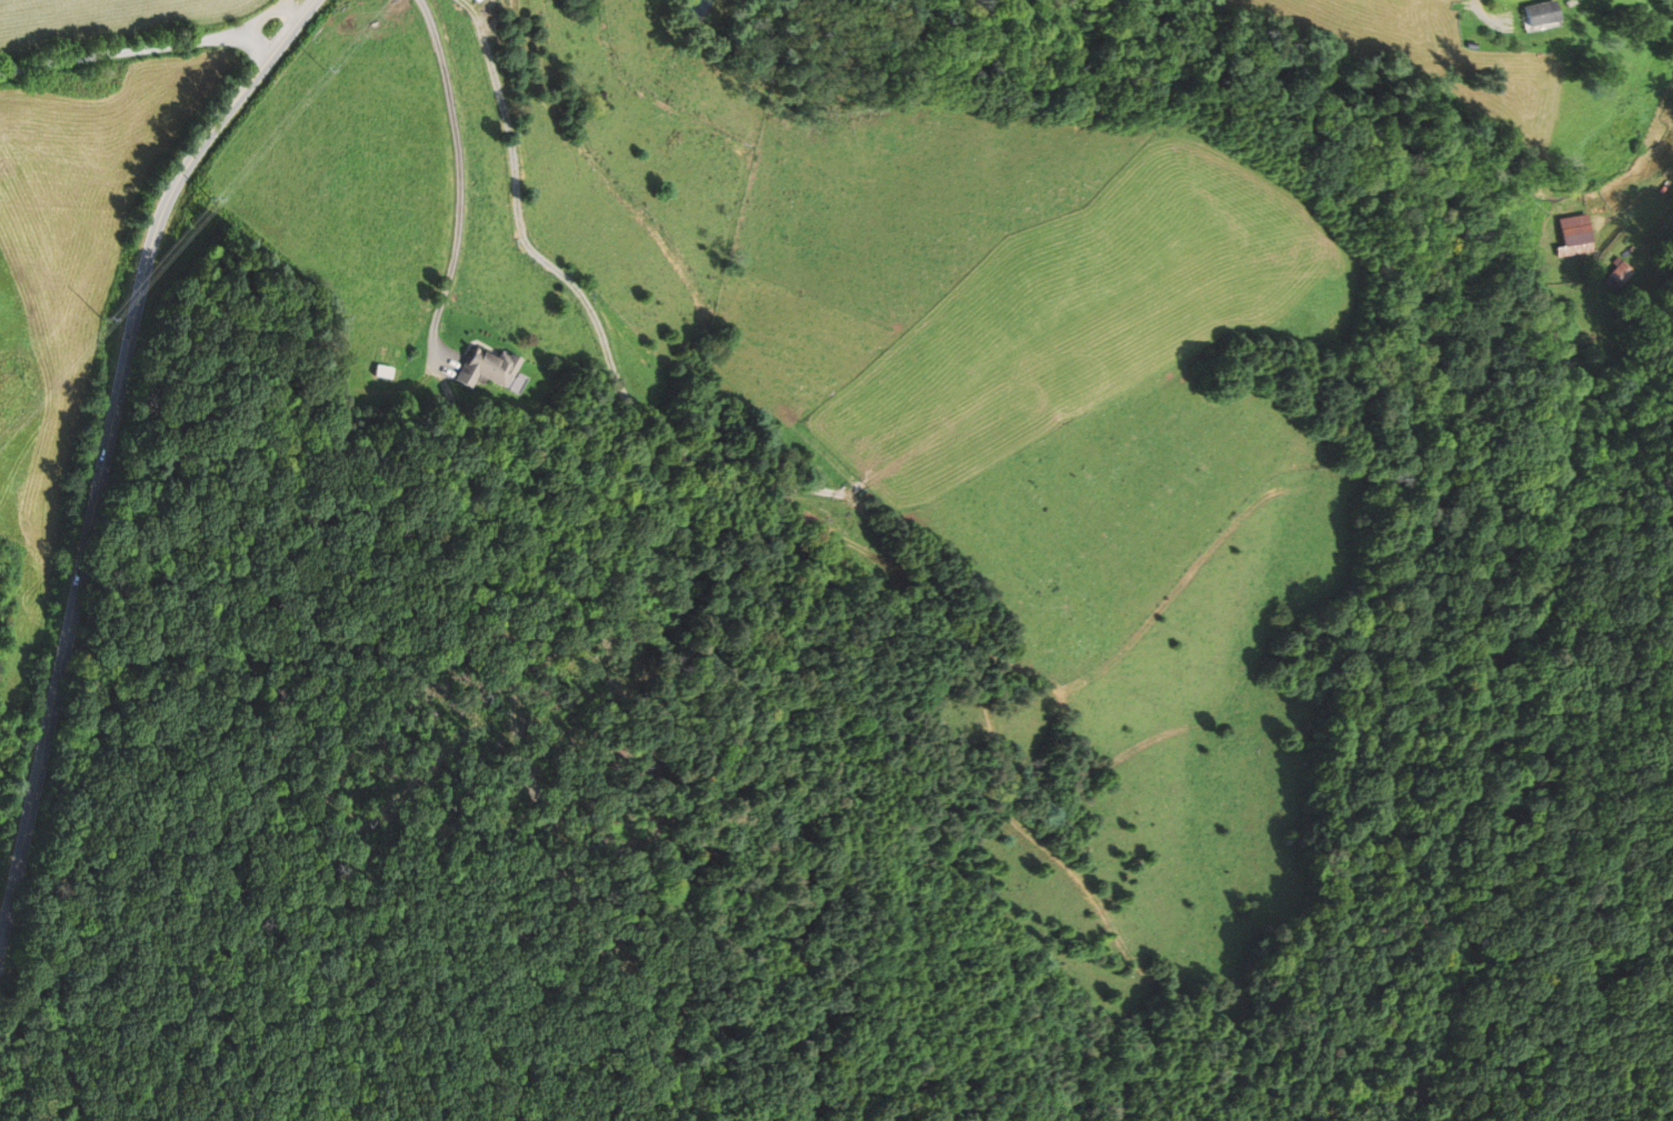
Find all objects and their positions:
building: (482, 0)
road: (292, 9)
building: (1547, 12)
road: (137, 49)
power tower: (326, 67)
road: (459, 182)
power tower: (211, 197)
building: (1581, 234)
building: (1623, 276)
power tower: (104, 317)
building: (491, 366)
road: (104, 453)

